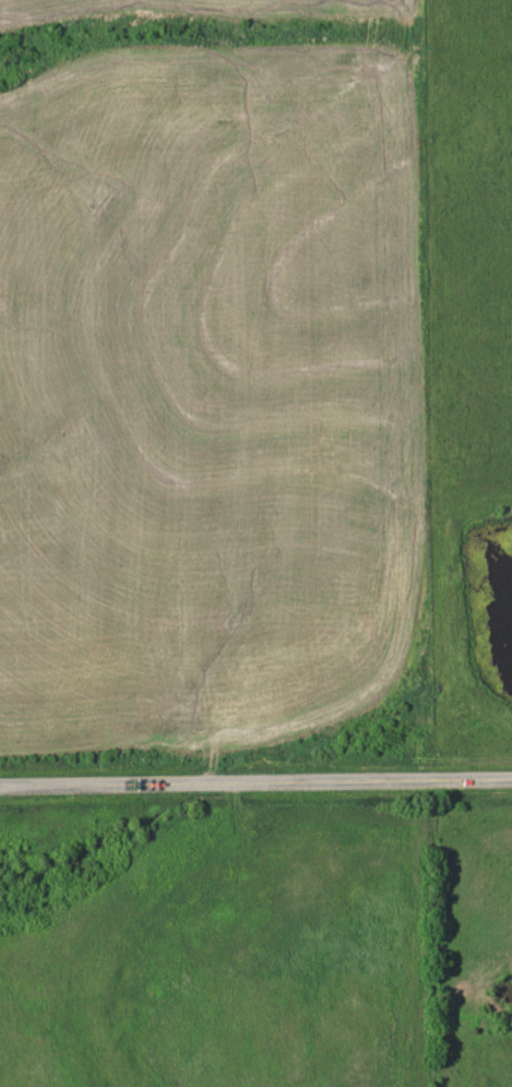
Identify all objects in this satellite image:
road: (255, 780)

